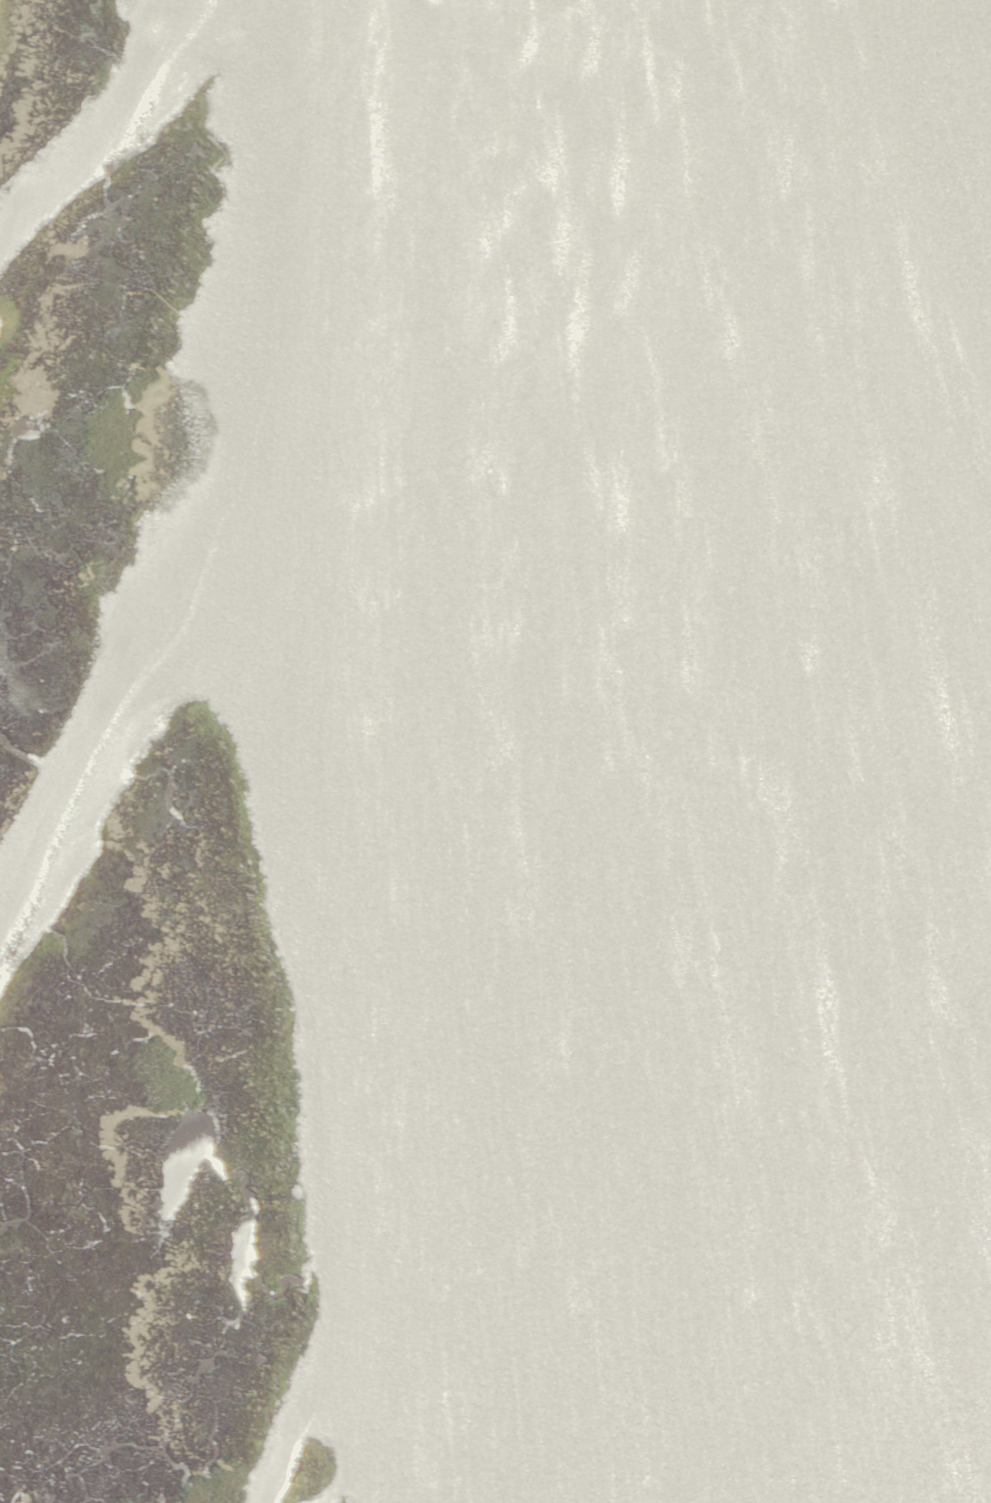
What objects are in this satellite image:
river: (842, 688)

